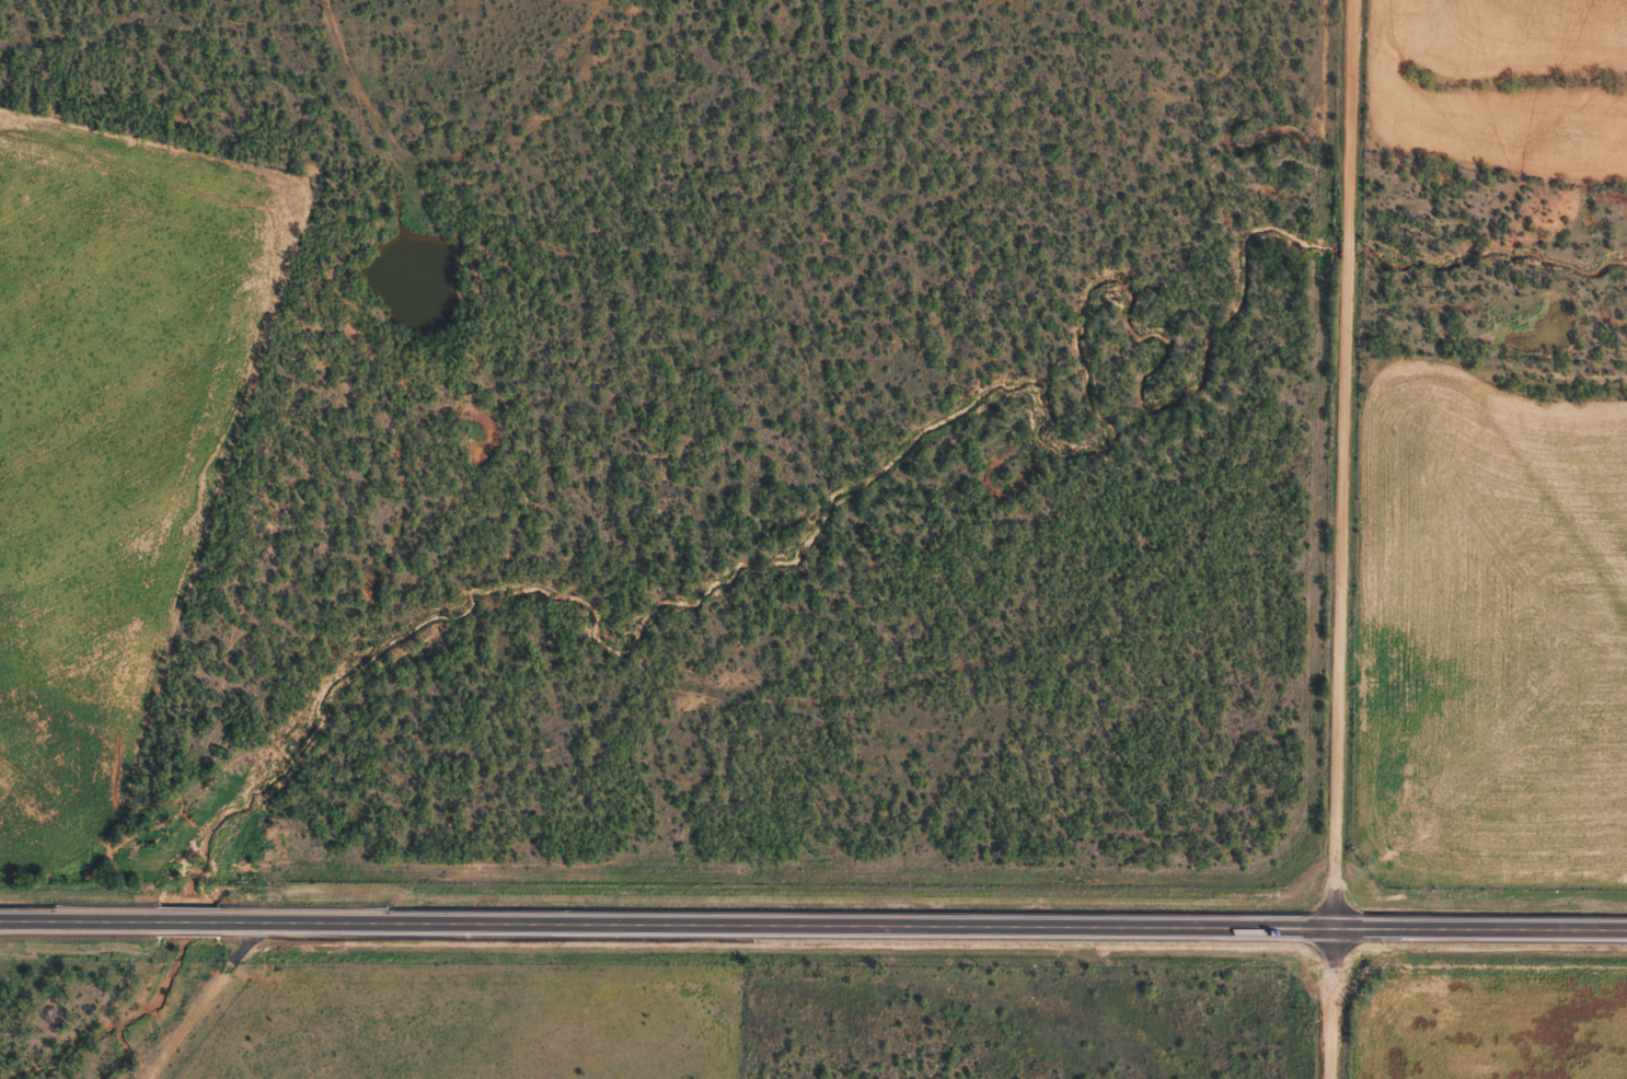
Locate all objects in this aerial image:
road: (1340, 467)
road: (813, 933)
road: (1330, 1007)

